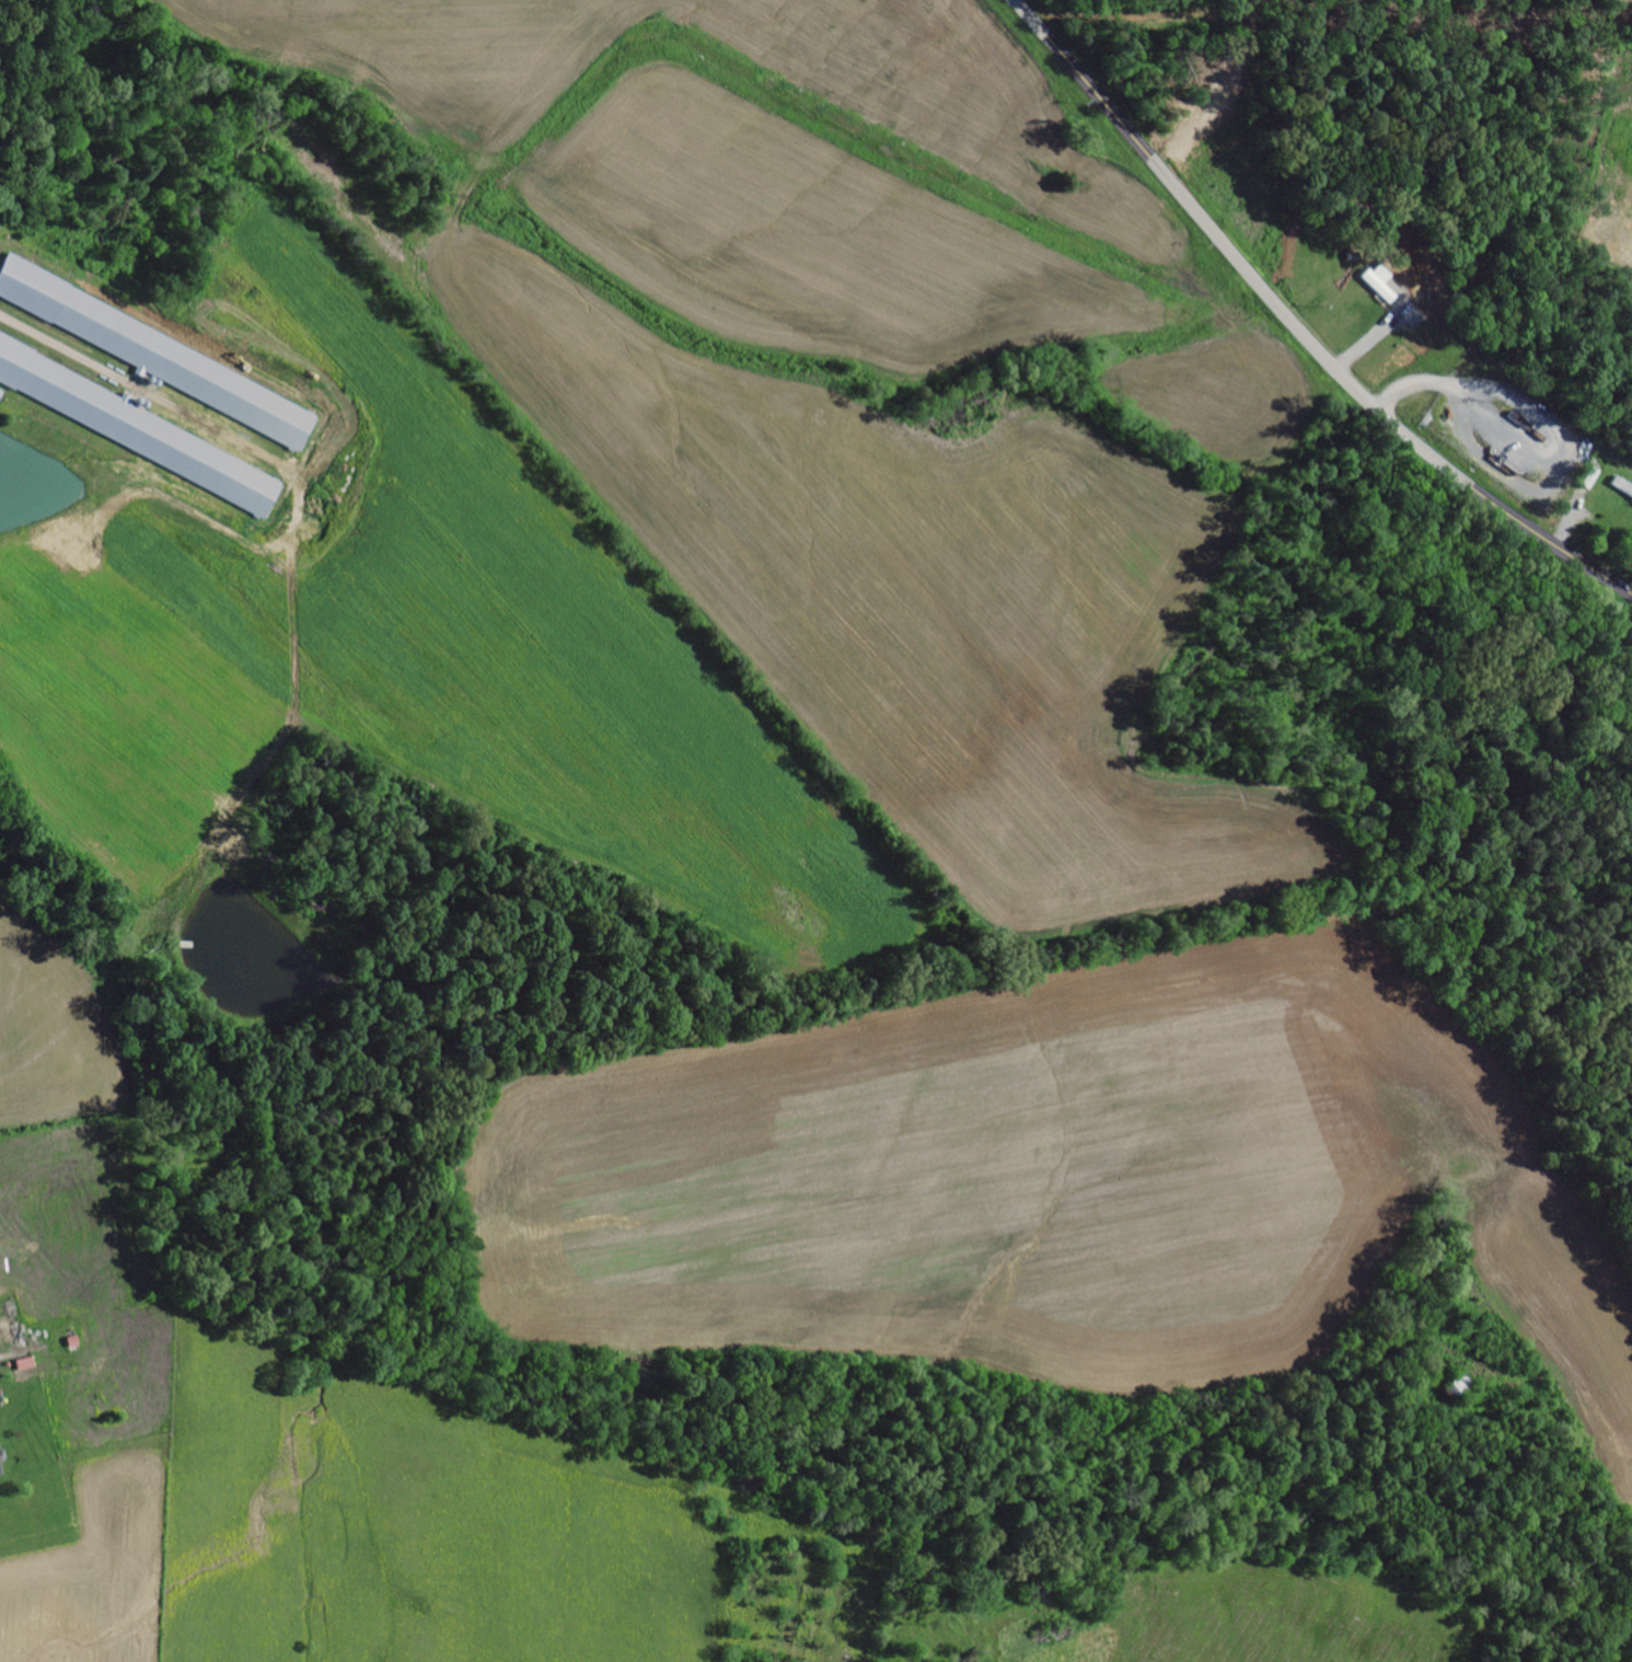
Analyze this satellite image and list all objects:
road: (1296, 326)
building: (162, 357)
building: (129, 425)
building: (1623, 487)
building: (27, 1370)
building: (0, 1474)

